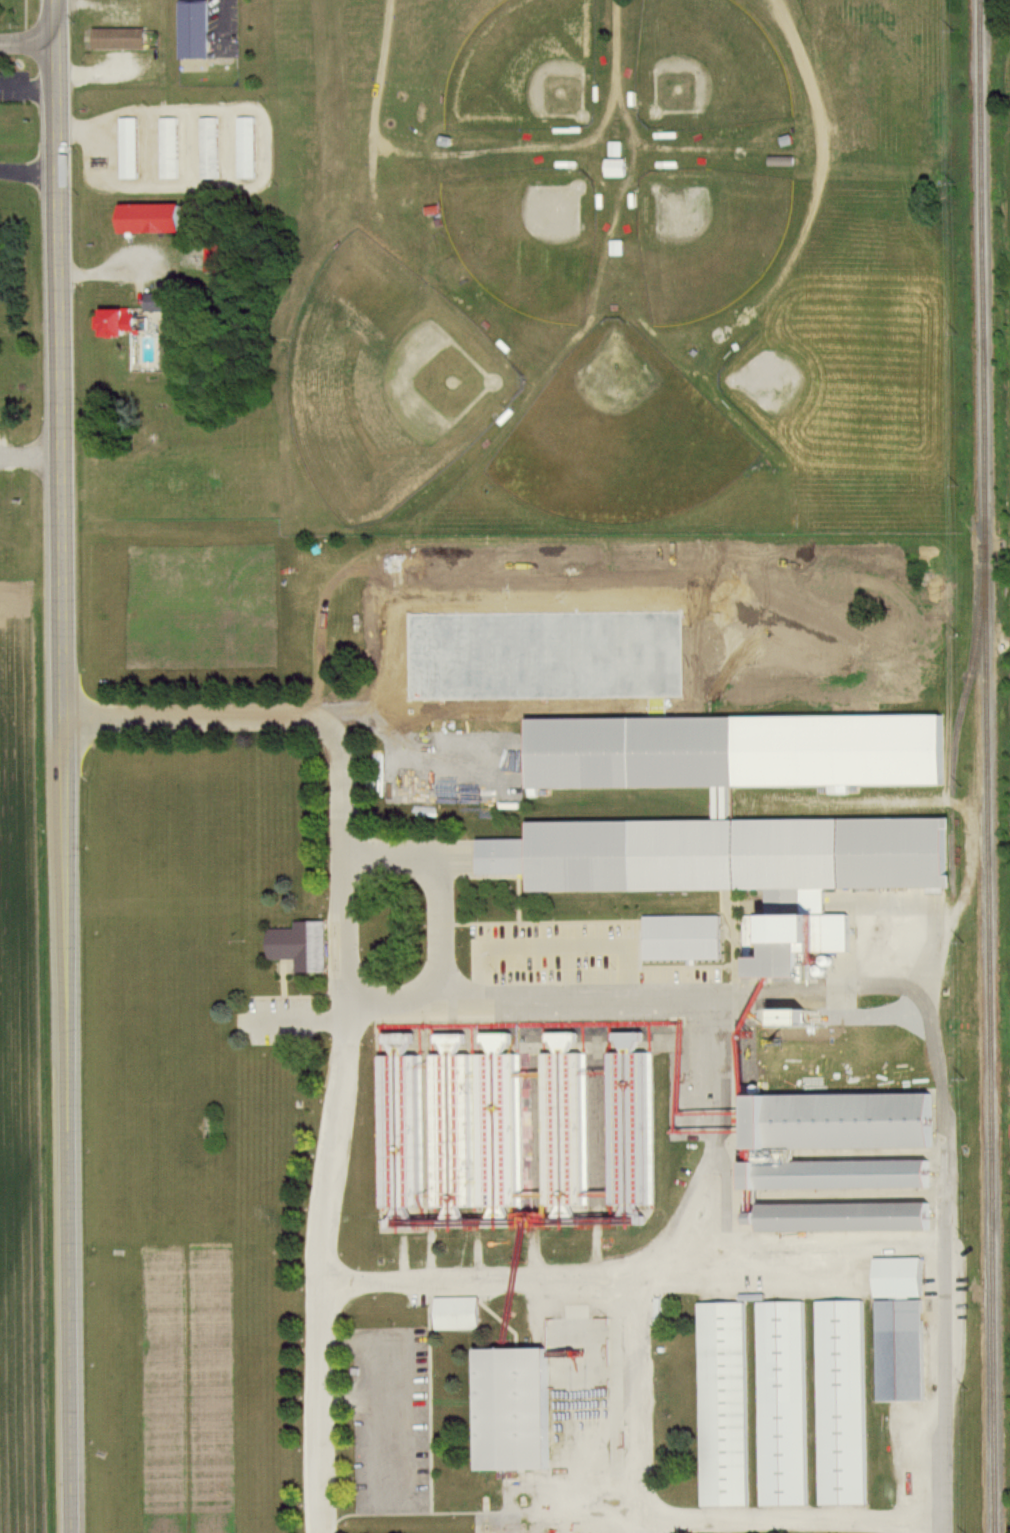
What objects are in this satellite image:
building: (195, 30)
building: (122, 38)
road: (26, 43)
park: (704, 68)
park: (524, 69)
road: (27, 85)
building: (179, 148)
building: (212, 148)
building: (221, 148)
building: (257, 148)
building: (138, 149)
building: (611, 150)
building: (776, 162)
building: (611, 169)
road: (27, 173)
building: (157, 217)
park: (524, 239)
park: (704, 239)
building: (612, 249)
park: (618, 268)
road: (96, 272)
building: (159, 302)
building: (122, 323)
park: (384, 383)
park: (614, 438)
road: (29, 456)
railway: (954, 738)
building: (737, 753)
road: (61, 766)
railway: (983, 766)
building: (719, 856)
road: (437, 923)
building: (787, 944)
building: (294, 947)
road: (622, 993)
road: (346, 996)
road: (298, 1018)
crop: (22, 1077)
building: (833, 1124)
building: (441, 1133)
building: (488, 1133)
building: (553, 1133)
building: (619, 1133)
building: (392, 1134)
building: (832, 1177)
building: (844, 1219)
road: (803, 1247)
road: (476, 1278)
building: (895, 1280)
building: (450, 1316)
building: (897, 1353)
building: (780, 1406)
building: (839, 1406)
building: (721, 1407)
building: (510, 1412)
road: (786, 1521)

